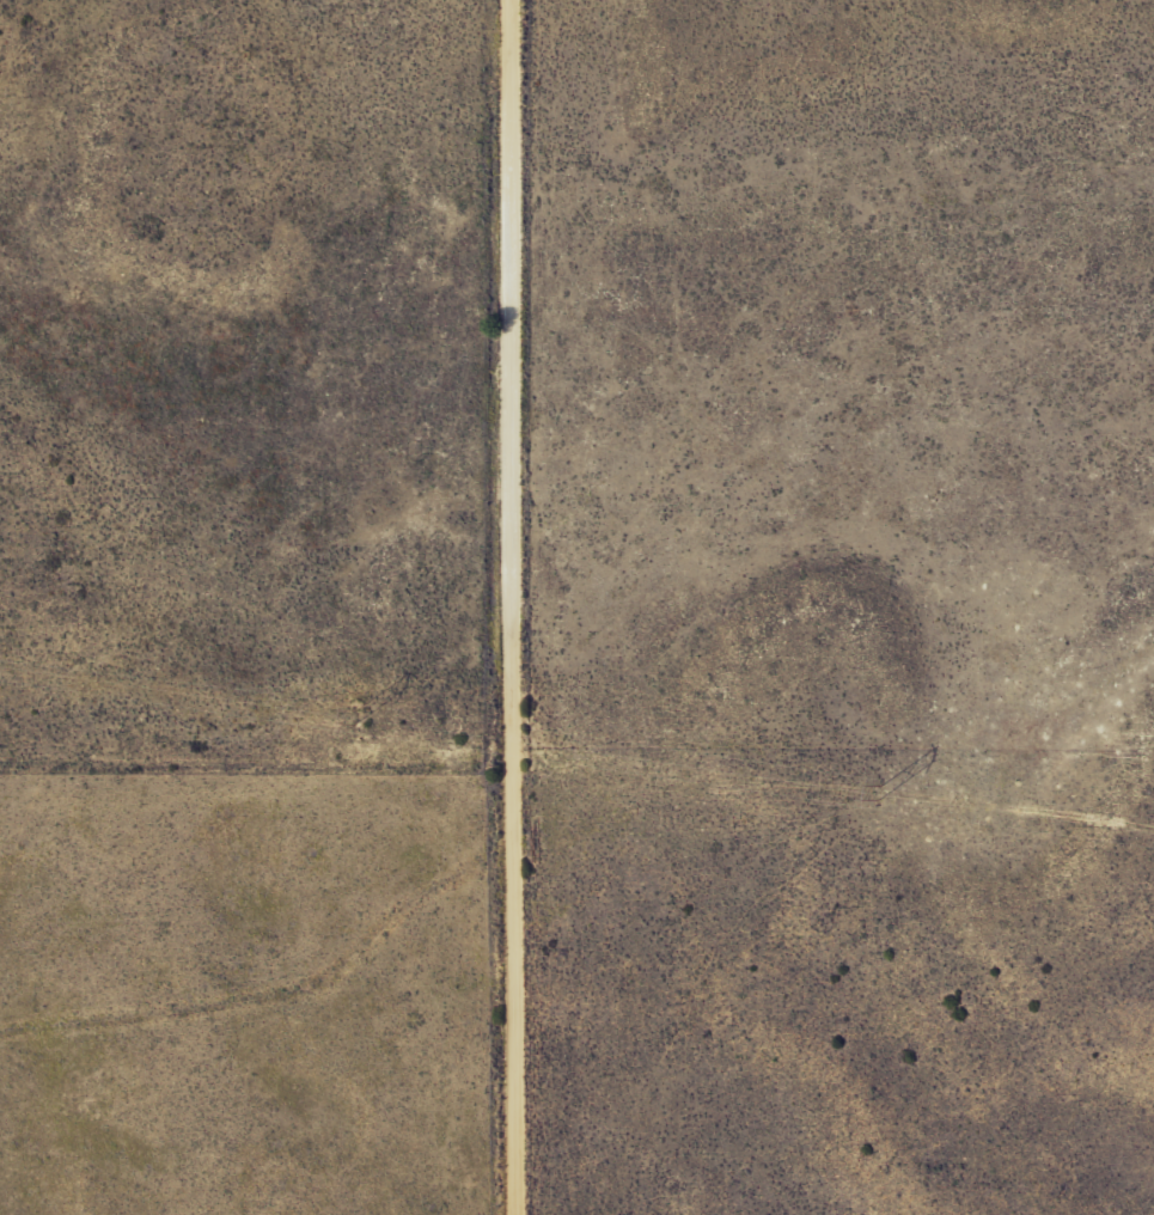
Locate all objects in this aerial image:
road: (512, 606)
power tower: (355, 713)
power tower: (877, 792)

